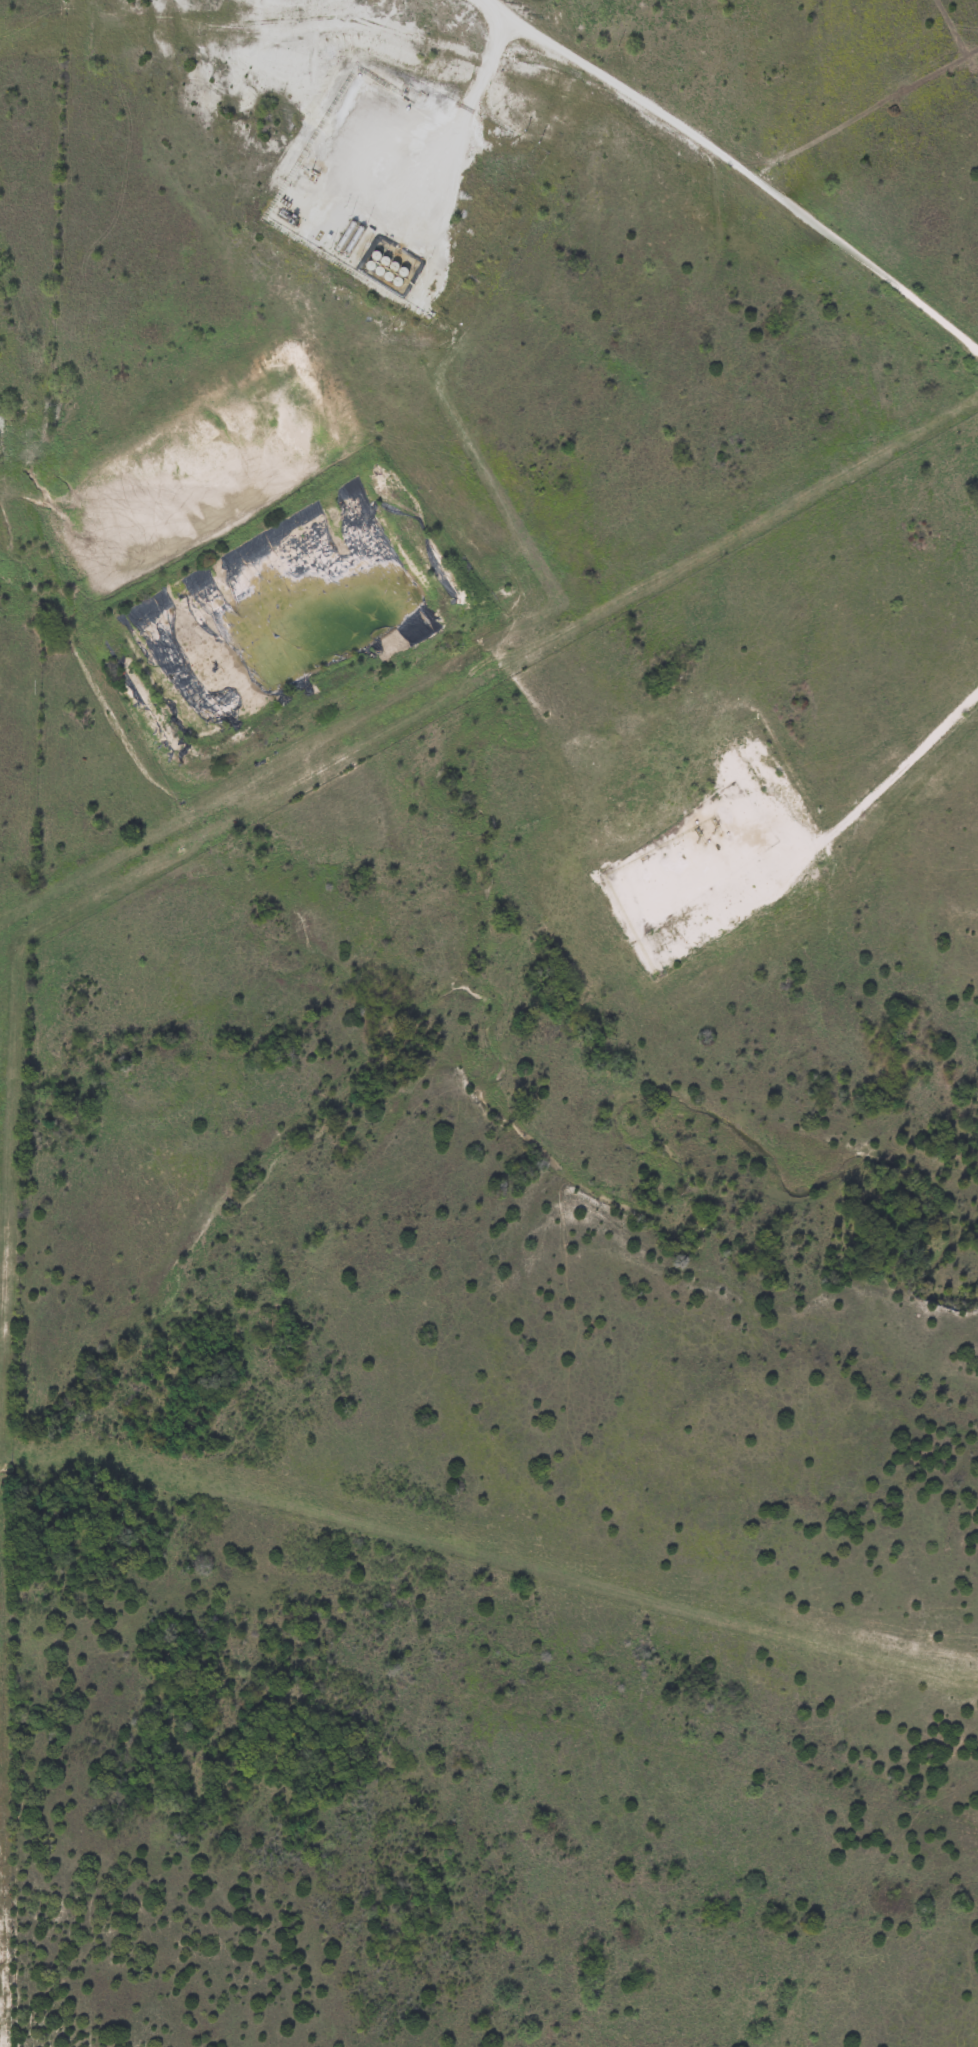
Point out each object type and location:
road: (464, 111)
road: (739, 162)

